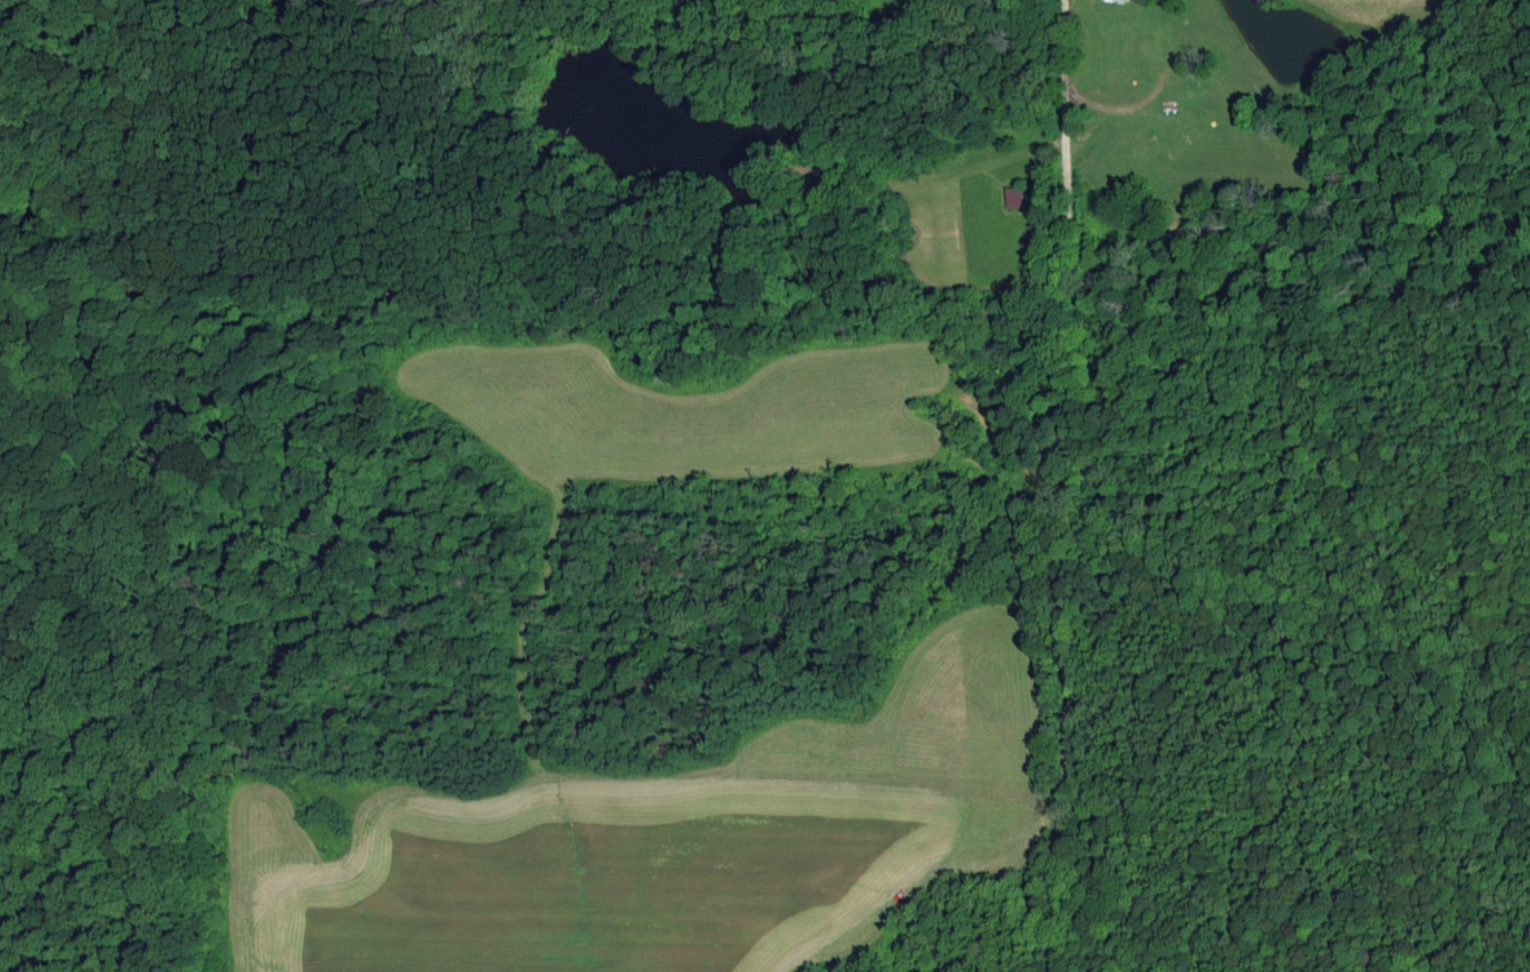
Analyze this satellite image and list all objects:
road: (1062, 486)

